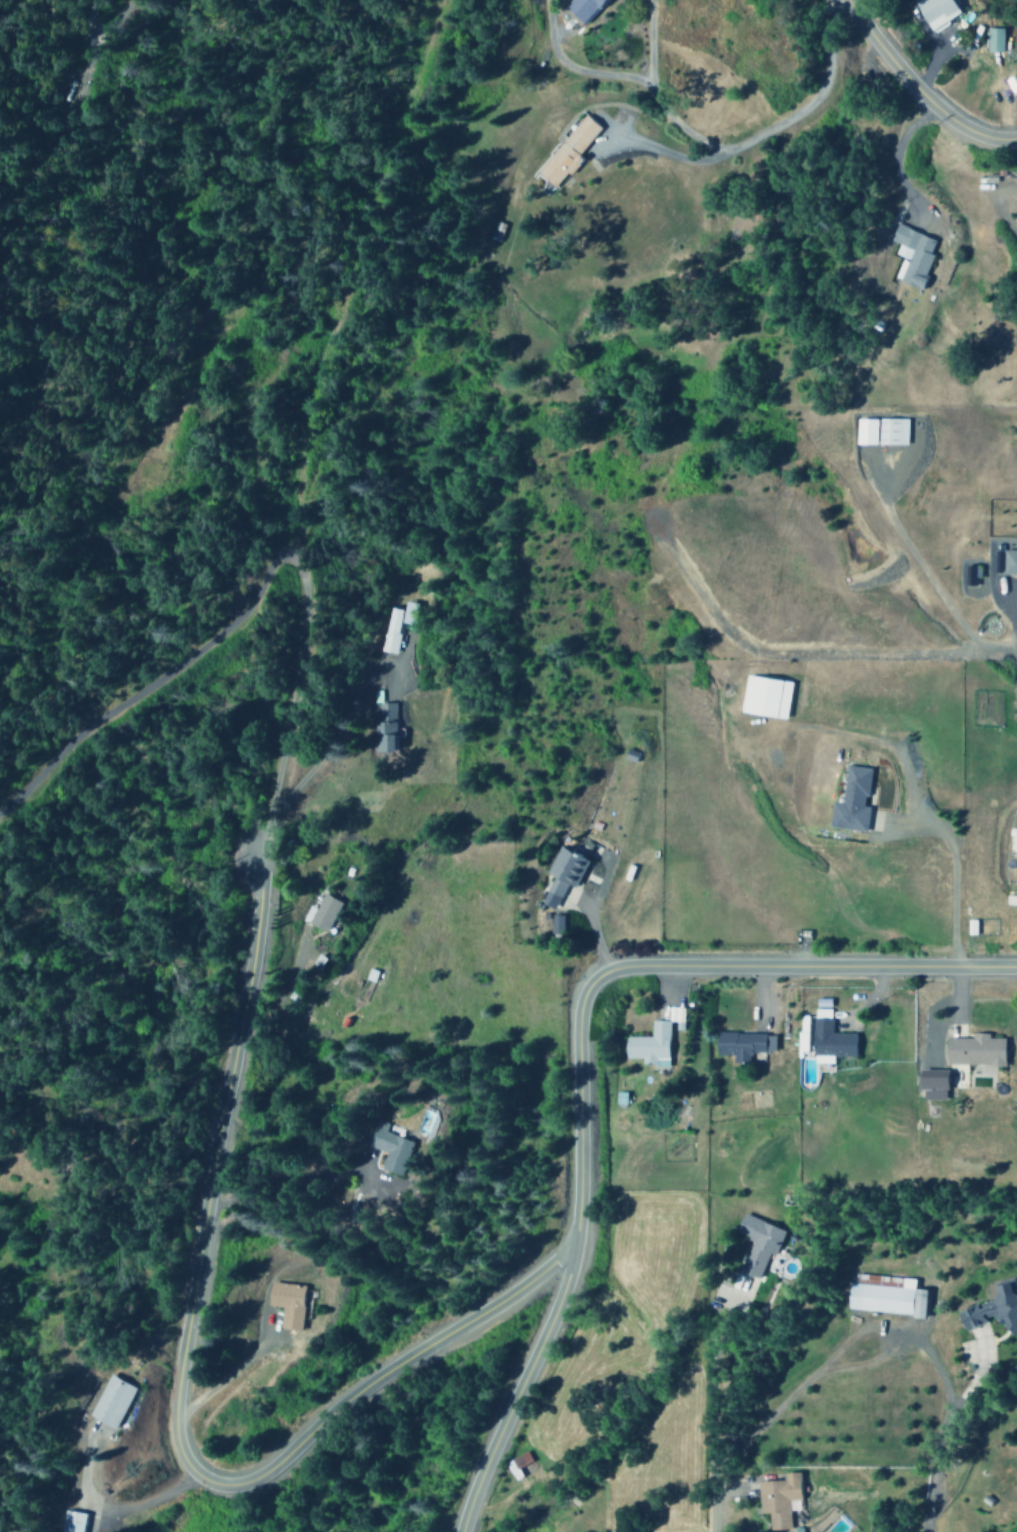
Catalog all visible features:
building: (580, 7)
building: (935, 12)
road: (101, 31)
building: (994, 39)
road: (613, 75)
road: (918, 86)
road: (772, 128)
building: (565, 152)
road: (664, 153)
building: (911, 255)
road: (345, 276)
building: (864, 431)
building: (891, 431)
building: (1008, 561)
road: (917, 567)
building: (970, 575)
building: (396, 625)
road: (1013, 625)
road: (801, 654)
road: (149, 685)
building: (763, 697)
road: (290, 710)
building: (385, 728)
building: (850, 801)
building: (561, 875)
building: (320, 913)
building: (556, 925)
road: (668, 965)
building: (828, 1038)
building: (648, 1044)
building: (742, 1045)
building: (973, 1050)
building: (930, 1079)
building: (387, 1148)
building: (756, 1243)
building: (882, 1295)
building: (285, 1303)
building: (993, 1309)
road: (826, 1362)
road: (177, 1391)
road: (516, 1391)
building: (110, 1401)
road: (715, 1420)
building: (515, 1463)
building: (776, 1498)
building: (71, 1521)

